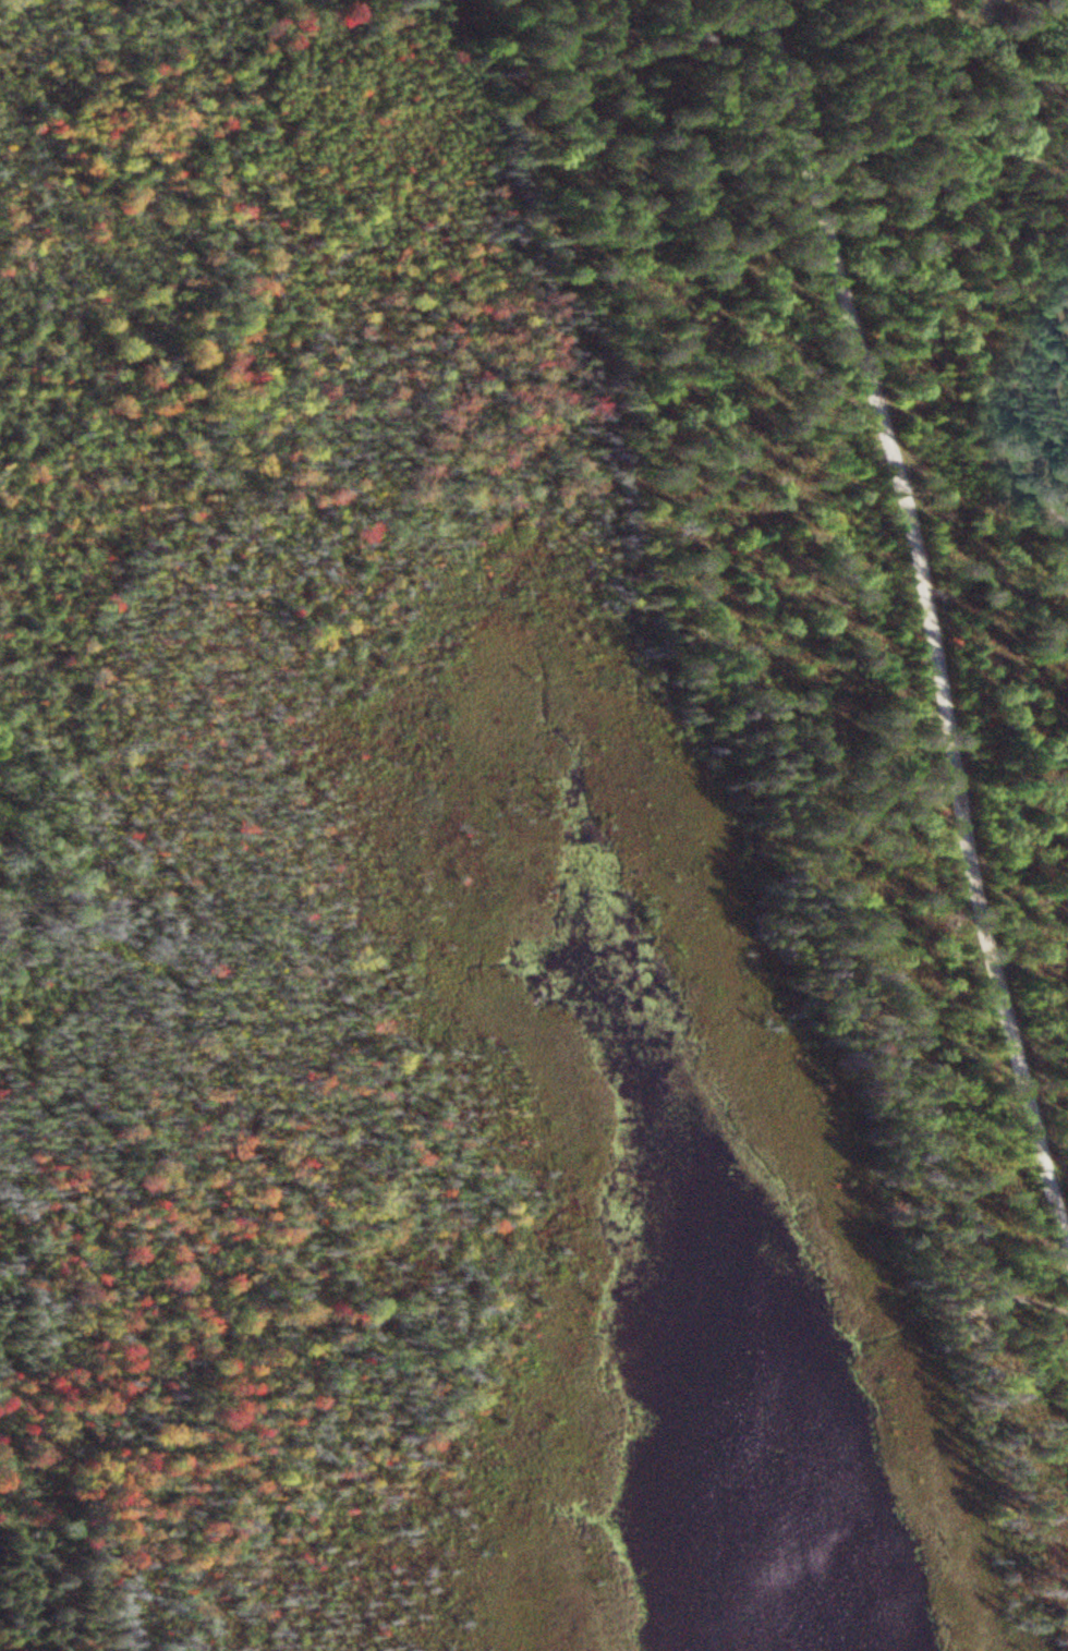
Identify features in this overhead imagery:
road: (933, 600)

